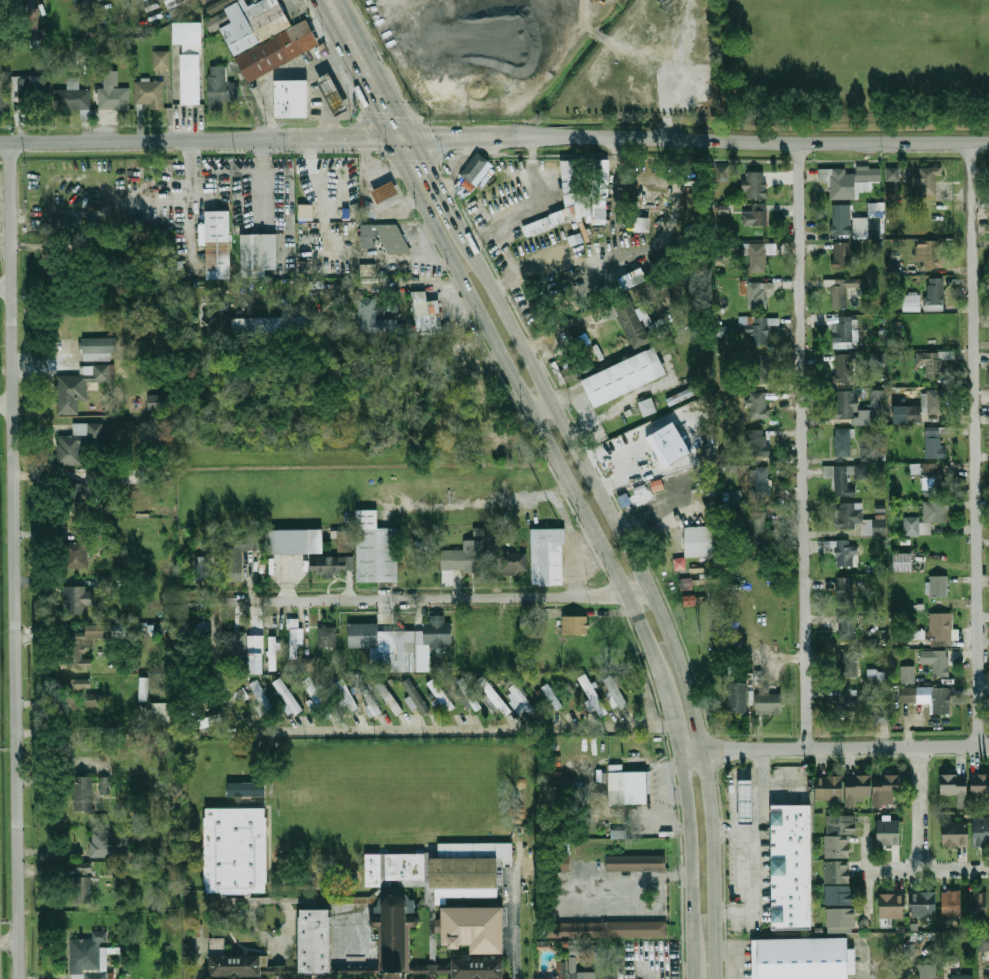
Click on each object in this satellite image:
building: (80, 1)
building: (202, 1)
building: (178, 7)
building: (216, 21)
building: (32, 22)
road: (343, 28)
building: (267, 37)
park: (868, 46)
building: (81, 48)
building: (161, 60)
building: (189, 60)
park: (852, 61)
building: (29, 88)
building: (221, 88)
building: (4, 91)
building: (113, 93)
building: (149, 94)
building: (334, 95)
building: (71, 97)
road: (381, 97)
building: (292, 98)
road: (386, 118)
road: (458, 137)
road: (342, 139)
traffic signals: (404, 139)
road: (140, 140)
road: (751, 142)
road: (691, 160)
road: (460, 166)
building: (475, 168)
building: (721, 173)
building: (893, 174)
road: (260, 177)
road: (616, 178)
building: (850, 180)
building: (926, 180)
road: (437, 184)
road: (189, 185)
building: (755, 185)
building: (599, 191)
building: (386, 192)
building: (891, 194)
road: (317, 195)
road: (539, 208)
building: (875, 209)
building: (481, 211)
building: (755, 218)
building: (841, 220)
building: (641, 224)
building: (538, 226)
building: (868, 228)
building: (393, 239)
building: (218, 245)
building: (259, 253)
building: (929, 254)
building: (842, 256)
building: (758, 258)
road: (581, 259)
road: (511, 264)
building: (894, 266)
building: (629, 280)
road: (5, 287)
building: (756, 294)
building: (935, 295)
building: (840, 297)
building: (912, 303)
building: (427, 313)
building: (375, 319)
building: (631, 322)
building: (253, 326)
building: (757, 329)
building: (897, 331)
building: (724, 332)
building: (843, 332)
building: (99, 348)
building: (461, 355)
building: (878, 362)
building: (933, 364)
building: (843, 368)
building: (760, 373)
building: (565, 375)
building: (625, 378)
building: (79, 387)
road: (564, 394)
road: (526, 401)
building: (845, 401)
building: (155, 402)
building: (932, 402)
road: (6, 403)
road: (539, 403)
building: (647, 407)
building: (758, 407)
building: (913, 415)
building: (78, 442)
building: (842, 442)
building: (758, 443)
building: (935, 443)
road: (979, 445)
road: (805, 447)
building: (507, 451)
building: (914, 468)
building: (847, 478)
building: (933, 481)
building: (761, 483)
building: (76, 493)
building: (735, 498)
building: (858, 519)
building: (927, 519)
building: (759, 527)
building: (296, 541)
building: (700, 541)
building: (345, 542)
building: (80, 549)
building: (376, 549)
building: (237, 553)
building: (846, 554)
building: (548, 555)
building: (468, 556)
road: (14, 560)
building: (512, 562)
building: (904, 562)
building: (679, 563)
building: (331, 565)
building: (205, 569)
building: (685, 584)
building: (940, 586)
road: (651, 588)
building: (845, 591)
road: (423, 597)
building: (78, 599)
building: (575, 624)
building: (847, 627)
building: (940, 628)
building: (435, 635)
building: (328, 637)
building: (296, 643)
building: (385, 644)
building: (79, 646)
building: (239, 646)
building: (271, 652)
building: (936, 661)
building: (255, 663)
building: (849, 663)
building: (307, 665)
building: (907, 674)
building: (875, 676)
building: (143, 689)
building: (73, 691)
building: (616, 691)
building: (287, 694)
building: (343, 694)
building: (241, 695)
building: (441, 695)
building: (468, 695)
building: (594, 695)
building: (387, 696)
building: (416, 696)
building: (493, 696)
building: (552, 696)
building: (316, 697)
building: (738, 697)
building: (929, 697)
building: (523, 698)
building: (264, 699)
building: (370, 701)
building: (94, 703)
building: (490, 703)
building: (769, 703)
building: (847, 703)
road: (672, 705)
building: (164, 716)
building: (882, 716)
building: (207, 722)
road: (444, 728)
road: (834, 748)
building: (980, 784)
building: (104, 785)
building: (629, 787)
building: (830, 787)
building: (872, 787)
building: (956, 787)
building: (245, 788)
park: (398, 792)
building: (84, 793)
road: (760, 795)
building: (747, 800)
gas station: (747, 800)
road: (917, 808)
building: (981, 831)
building: (889, 832)
building: (956, 833)
building: (135, 834)
building: (618, 834)
building: (839, 835)
building: (107, 843)
building: (236, 850)
road: (691, 860)
building: (637, 863)
building: (469, 864)
building: (563, 865)
building: (406, 866)
building: (793, 866)
road: (926, 869)
building: (374, 870)
road: (864, 871)
road: (750, 876)
building: (82, 883)
road: (631, 887)
building: (839, 894)
building: (924, 904)
building: (952, 905)
building: (893, 906)
building: (978, 907)
road: (515, 908)
building: (411, 912)
building: (474, 929)
building: (610, 929)
building: (395, 937)
building: (984, 941)
road: (10, 942)
building: (315, 942)
building: (216, 946)
building: (909, 949)
building: (89, 957)
road: (733, 958)
building: (801, 958)
building: (572, 964)
building: (235, 966)
road: (860, 968)
building: (478, 969)
building: (560, 970)
building: (577, 975)
road: (694, 975)
building: (928, 975)
building: (964, 976)
building: (987, 976)

